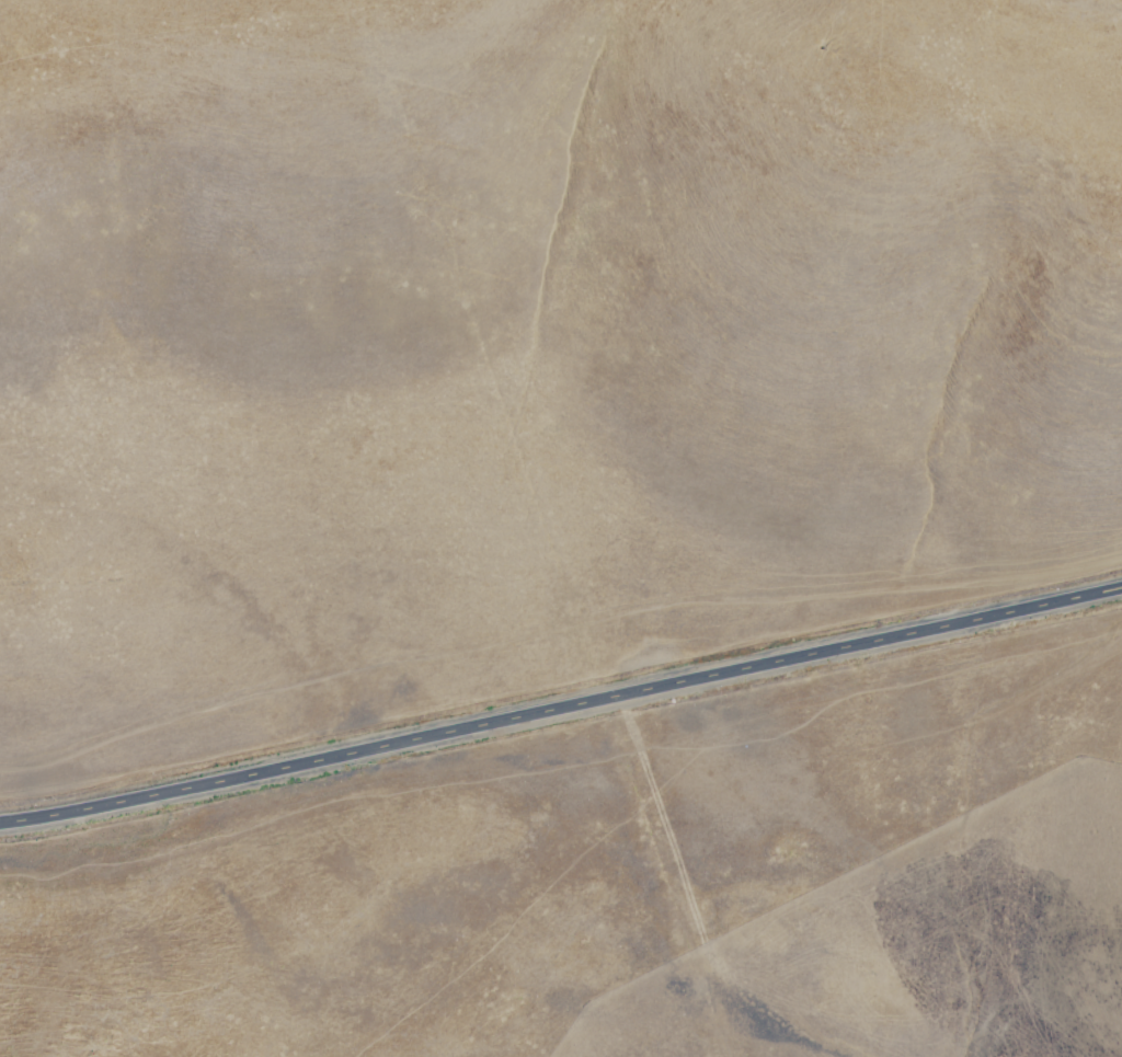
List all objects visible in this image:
park: (529, 491)
road: (561, 709)

